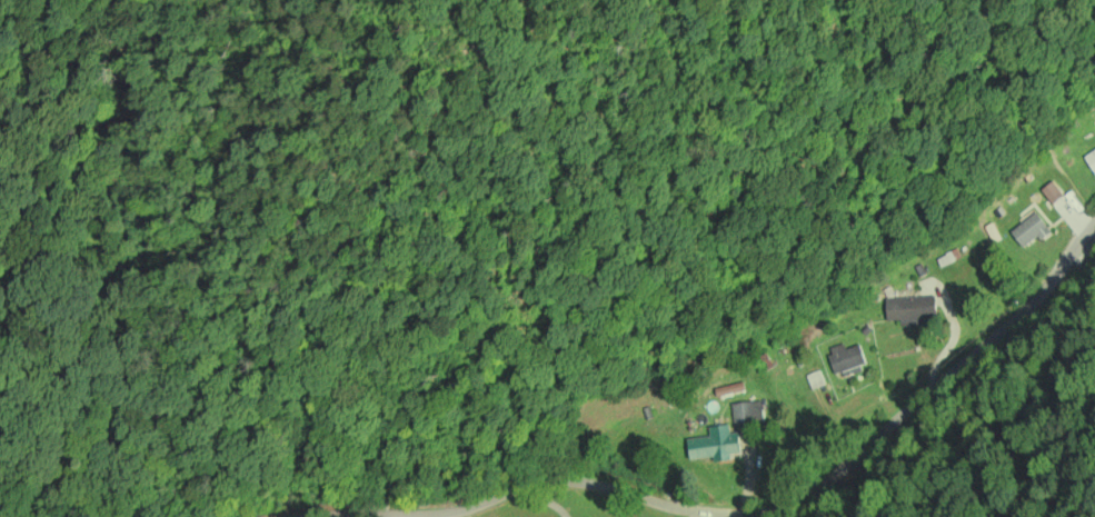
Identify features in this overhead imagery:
building: (1091, 159)
building: (1052, 192)
building: (1029, 229)
building: (910, 309)
building: (846, 359)
road: (974, 394)
building: (747, 412)
building: (715, 444)

